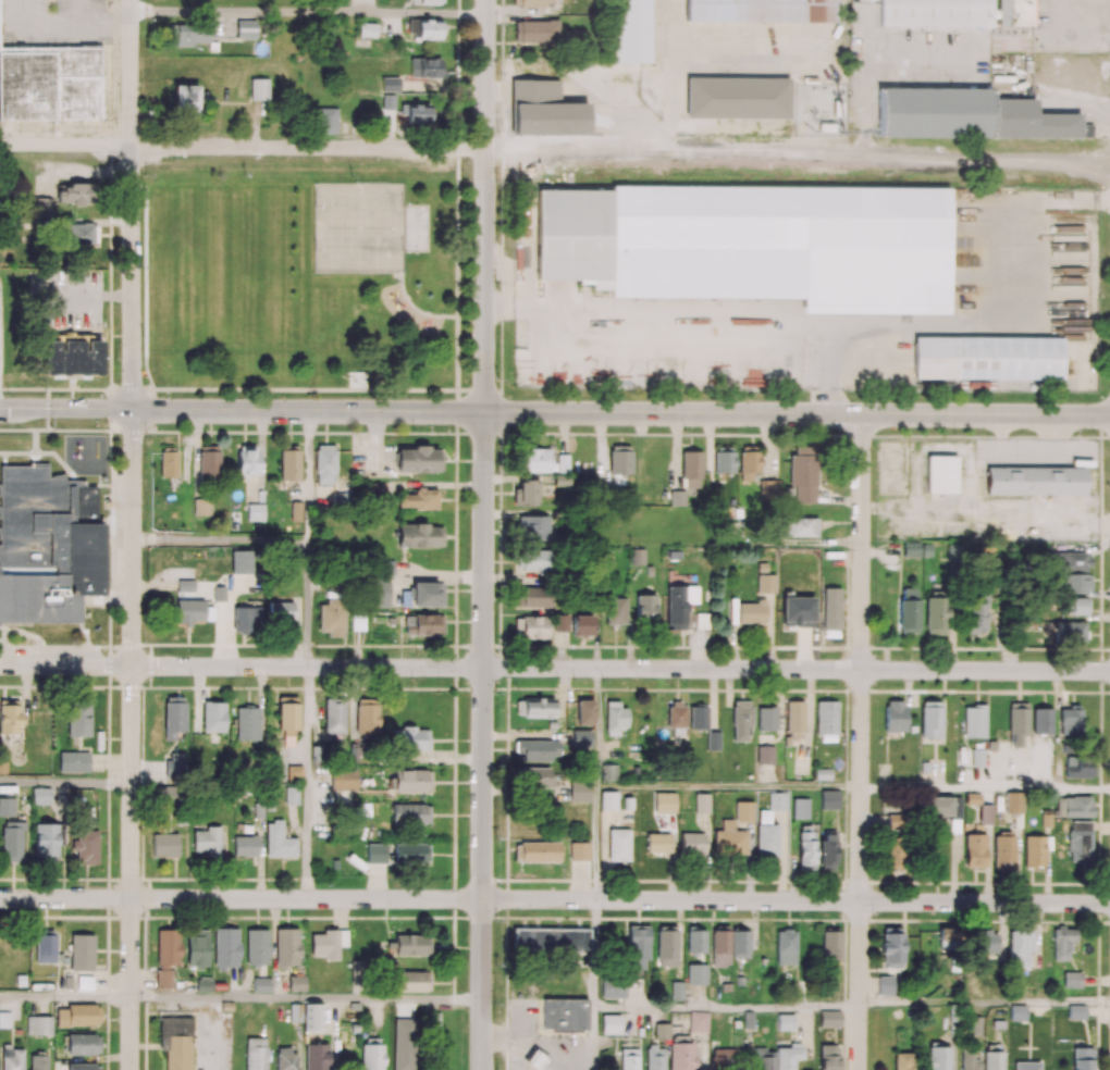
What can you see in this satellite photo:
building: (757, 11)
road: (307, 12)
building: (934, 14)
building: (1013, 14)
road: (863, 29)
building: (629, 32)
road: (923, 60)
building: (48, 85)
building: (736, 99)
building: (837, 109)
building: (542, 111)
building: (967, 117)
building: (826, 127)
road: (243, 147)
road: (799, 153)
road: (129, 206)
road: (485, 206)
park: (358, 227)
park: (416, 229)
building: (754, 244)
park: (301, 284)
road: (701, 316)
road: (1016, 316)
building: (987, 359)
road: (555, 412)
building: (941, 475)
building: (1034, 481)
road: (308, 539)
road: (220, 540)
road: (555, 668)
road: (596, 729)
road: (132, 741)
road: (482, 741)
road: (861, 742)
road: (65, 783)
road: (307, 783)
road: (728, 787)
road: (985, 787)
road: (595, 844)
road: (555, 899)
road: (594, 953)
road: (64, 997)
road: (306, 998)
road: (984, 1003)
road: (726, 1005)
building: (226, 1007)
building: (566, 1015)
road: (522, 1019)
building: (566, 1032)
road: (213, 1034)
road: (502, 1036)
road: (593, 1037)
building: (175, 1043)
road: (551, 1050)
road: (522, 1053)
road: (579, 1060)
building: (535, 1061)

